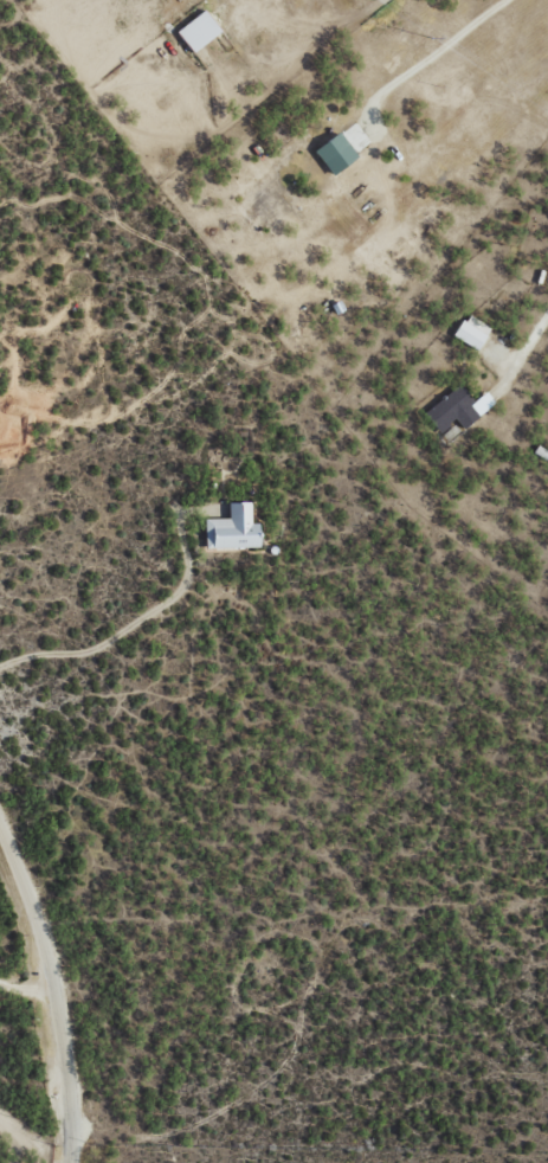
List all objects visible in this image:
building: (199, 31)
building: (336, 153)
building: (472, 332)
building: (458, 409)
building: (233, 528)
road: (28, 1043)

